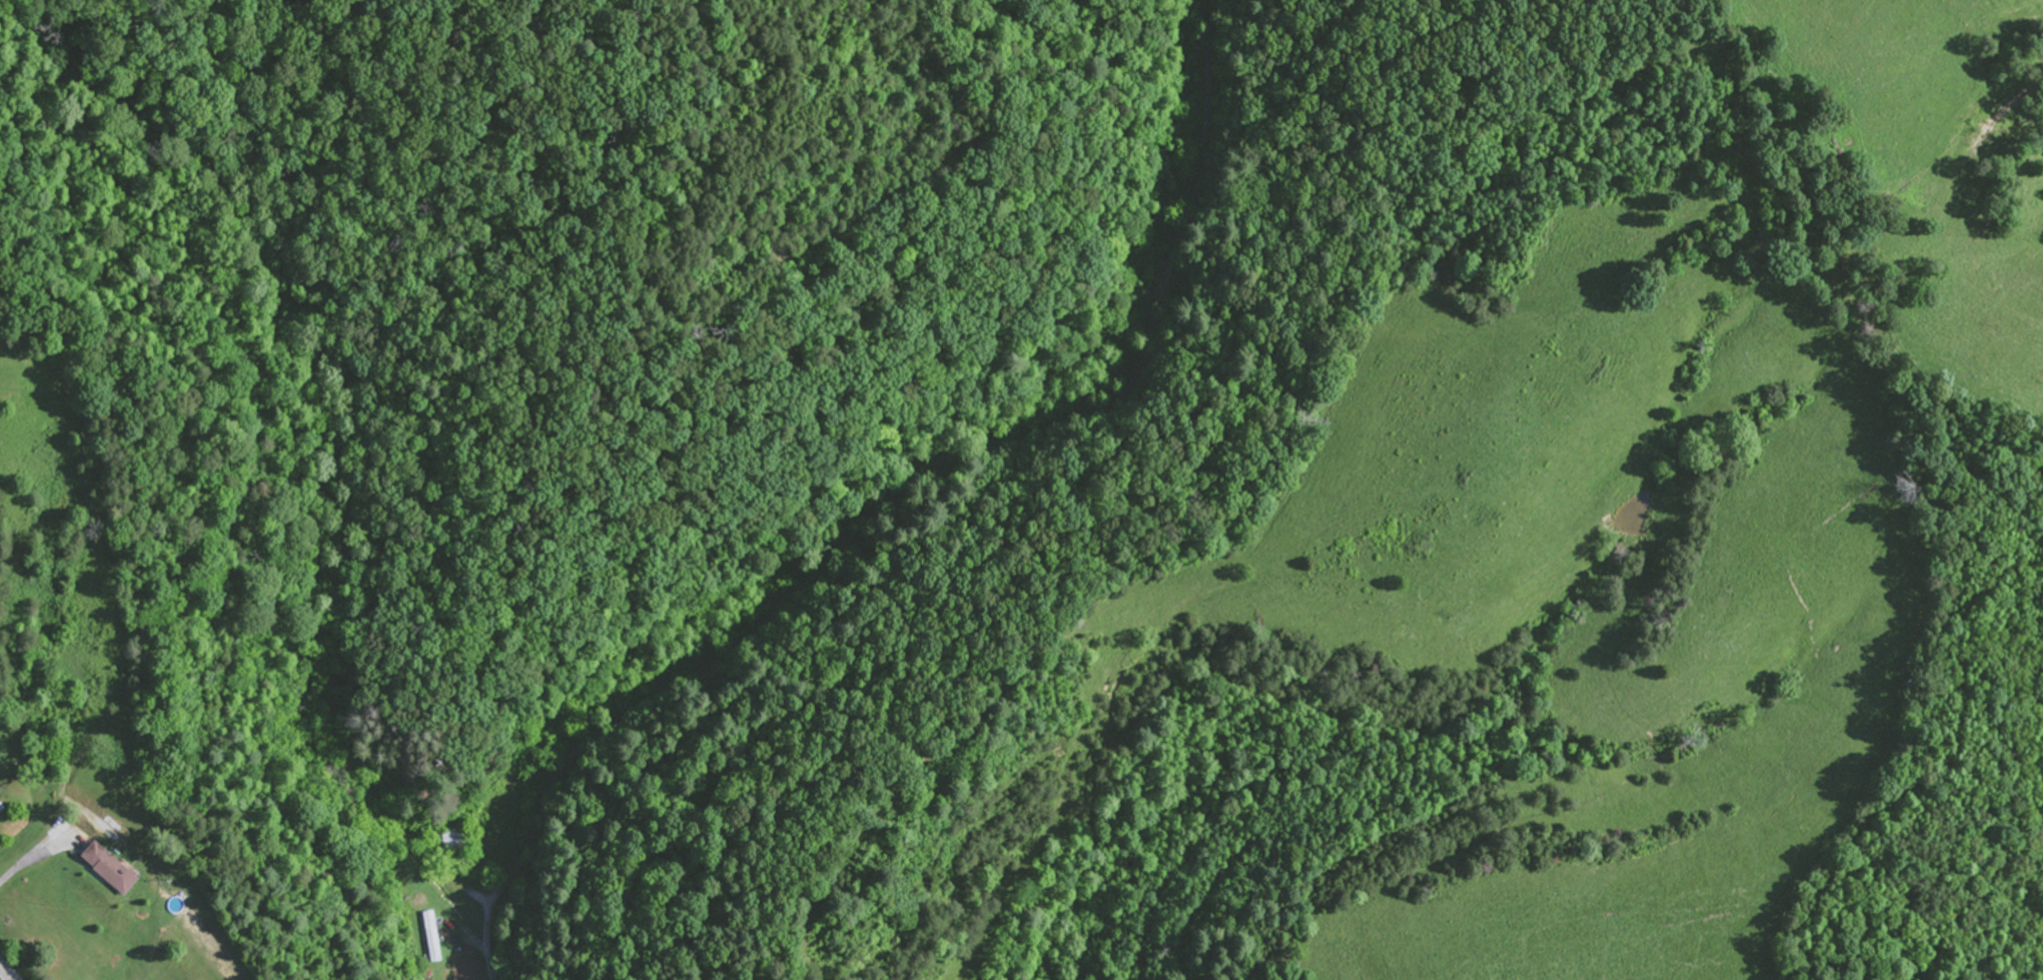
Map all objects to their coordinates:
road: (902, 500)
building: (451, 840)
building: (107, 869)
building: (434, 936)
road: (8, 970)

